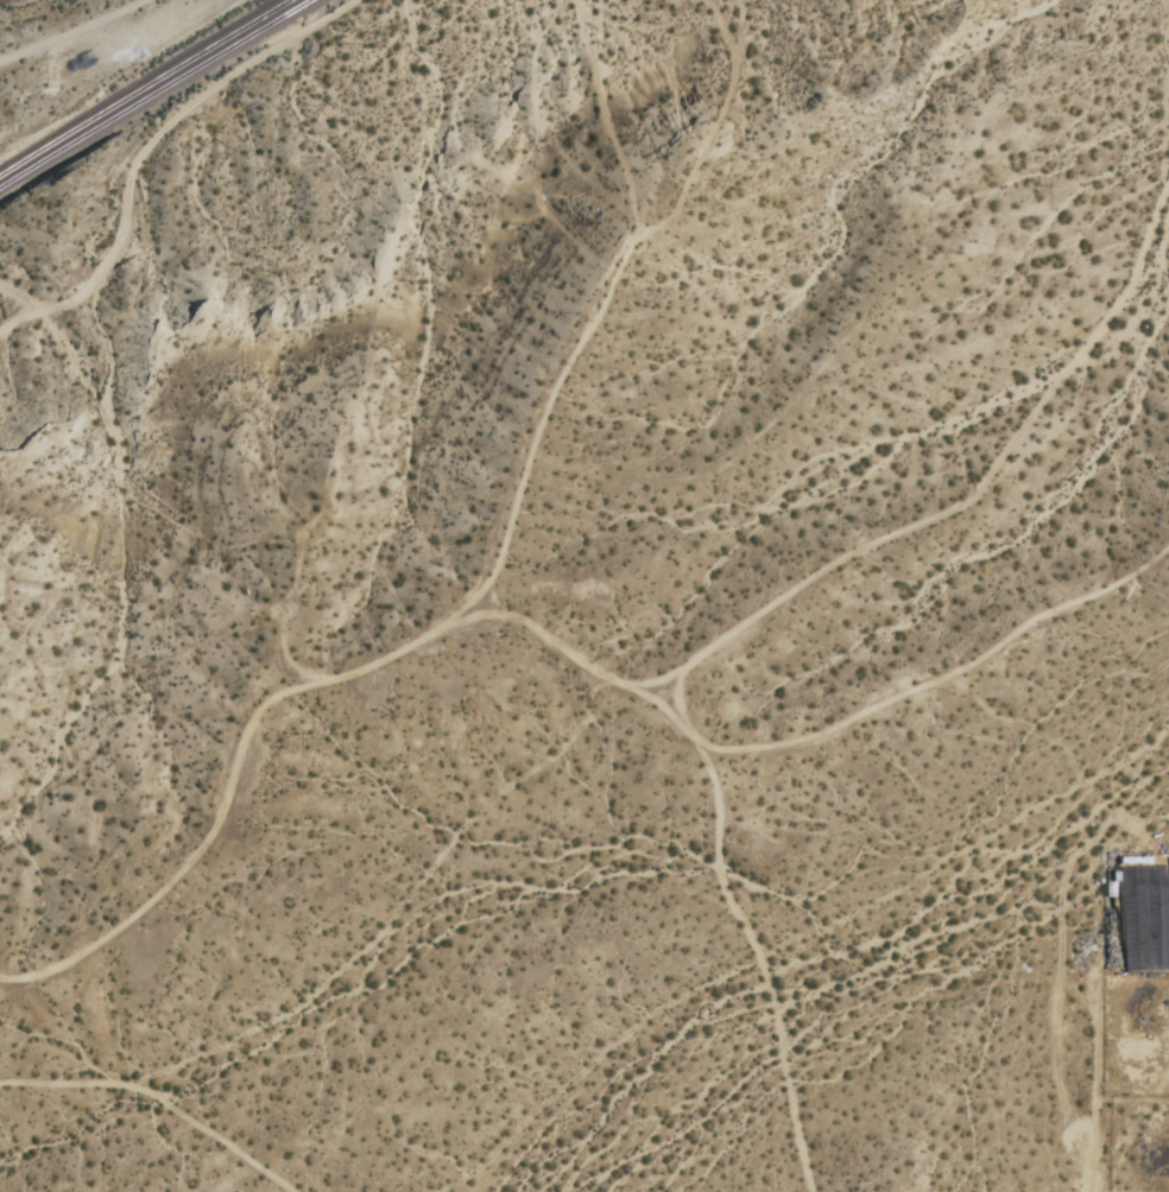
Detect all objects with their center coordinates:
road: (71, 30)
railway: (144, 87)
railway: (153, 91)

